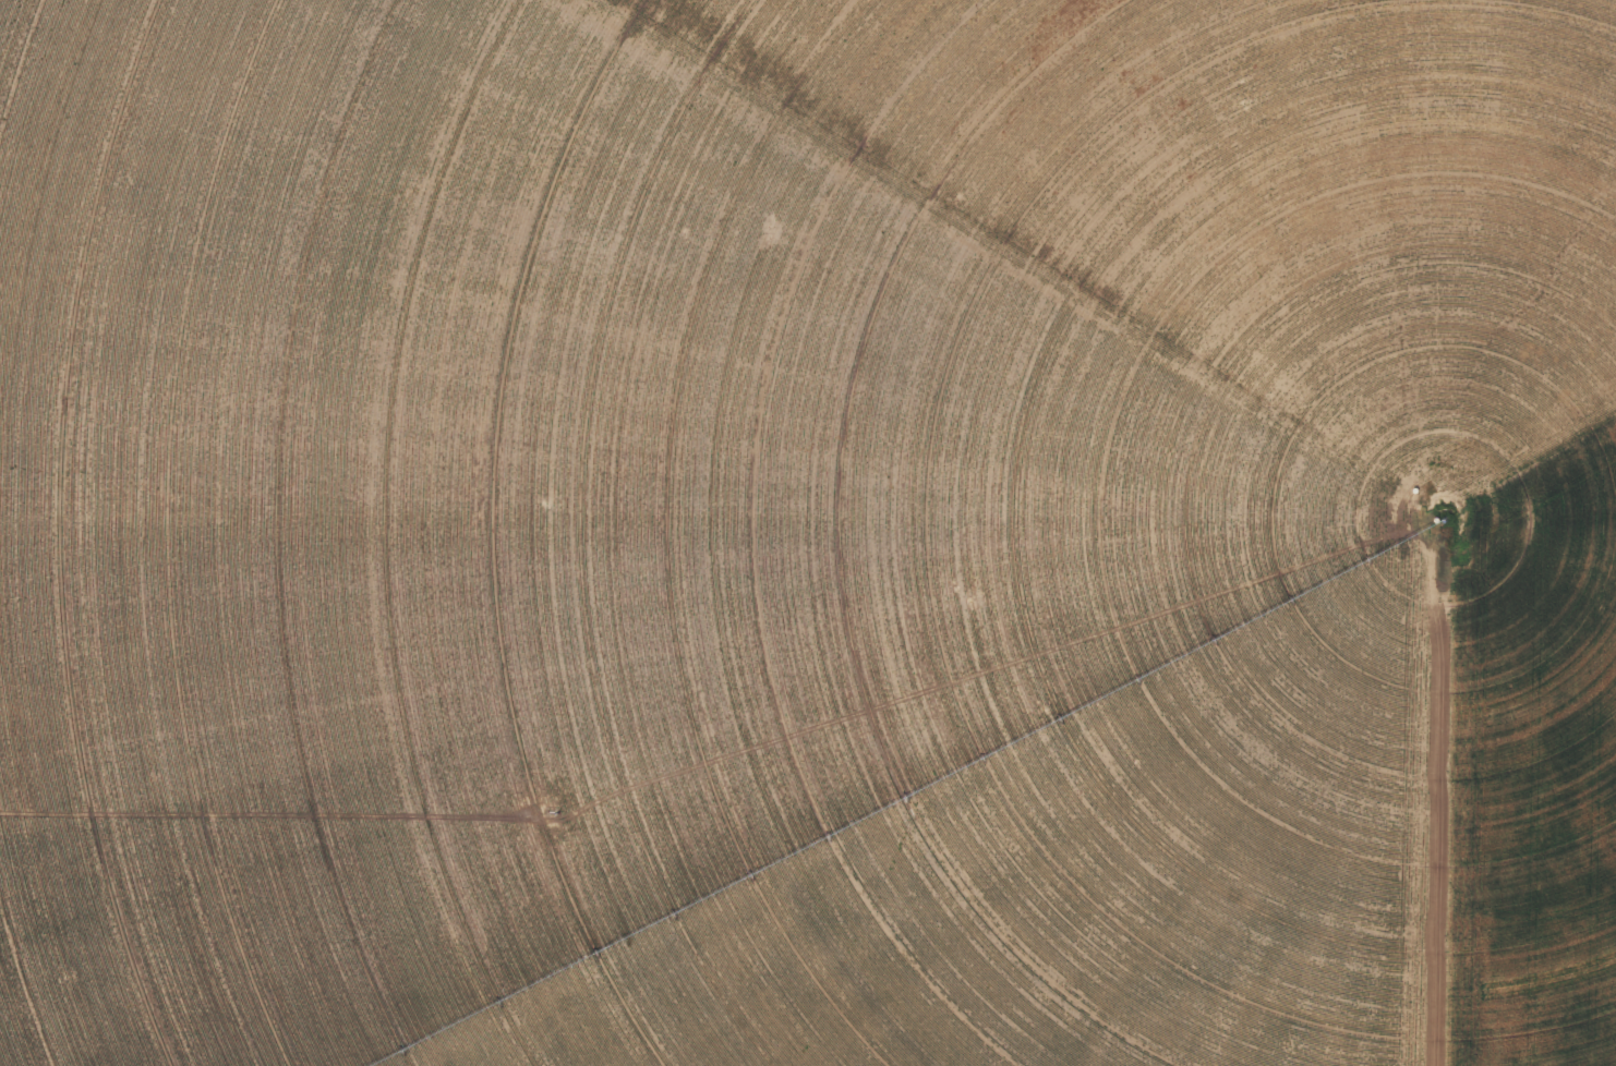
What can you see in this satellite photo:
crop: (808, 533)

